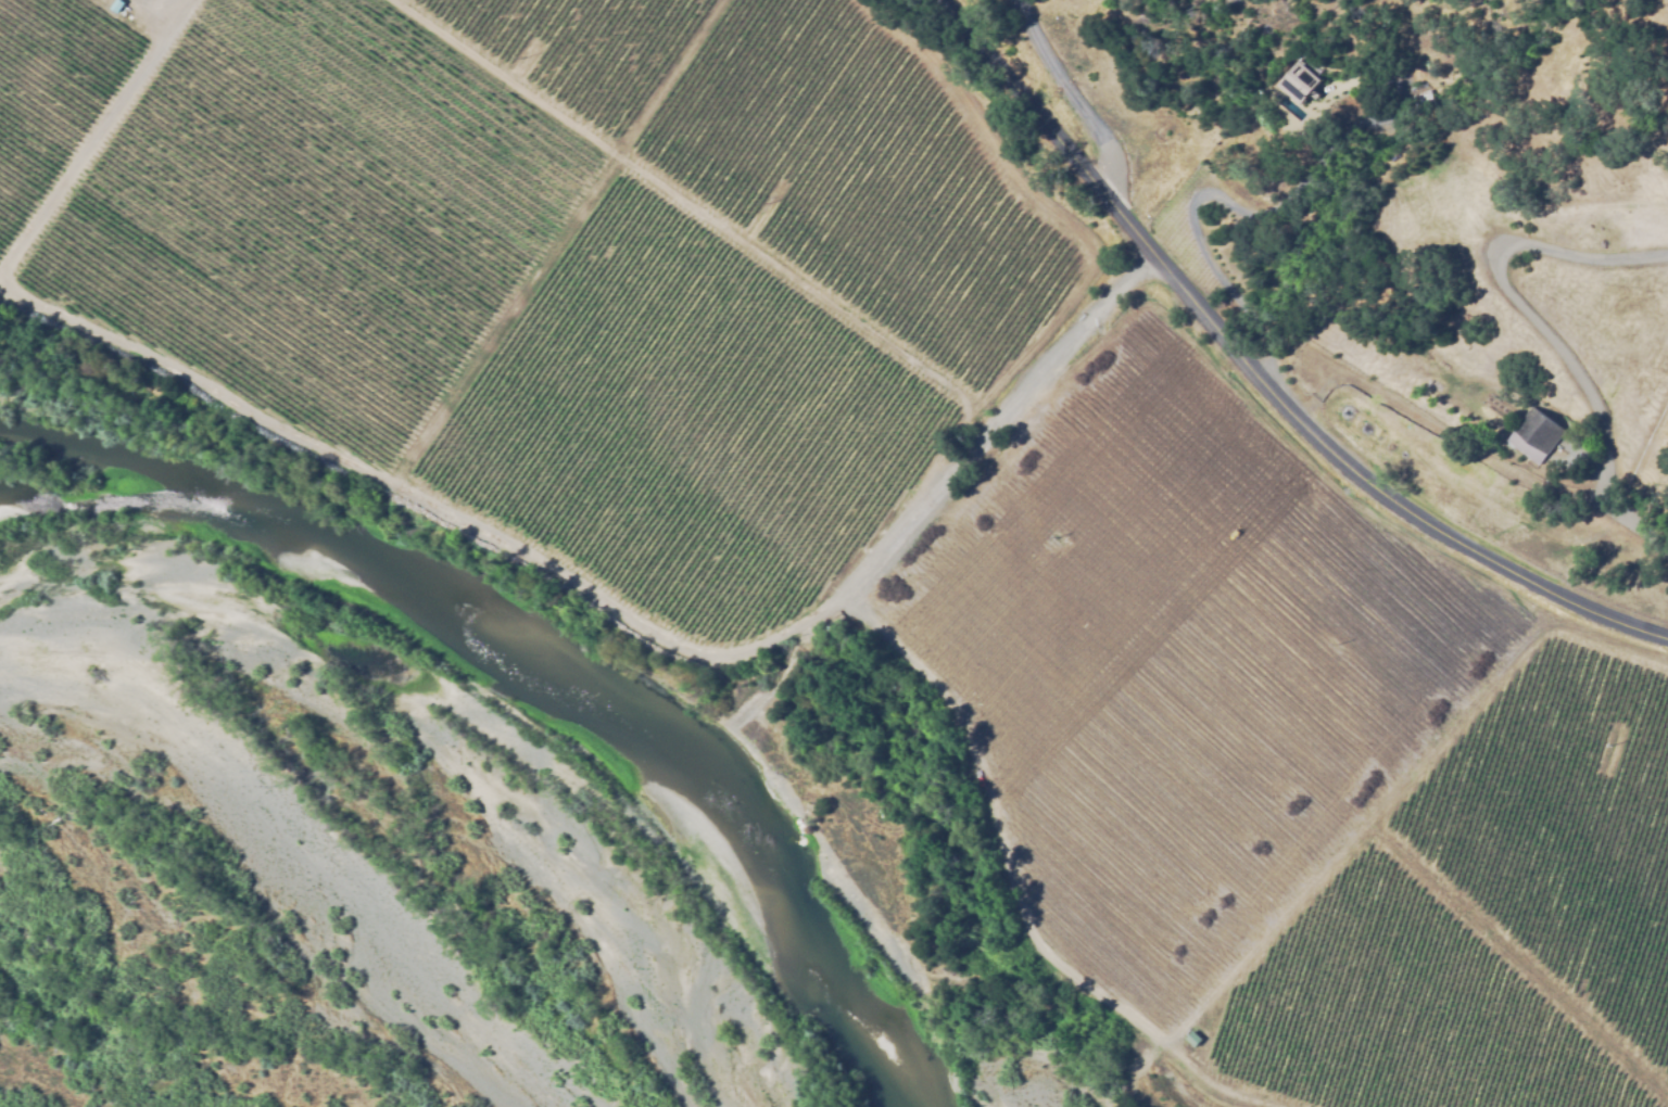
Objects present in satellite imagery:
building: (116, 7)
building: (1301, 80)
building: (1420, 104)
road: (1216, 196)
road: (1542, 323)
road: (1265, 376)
building: (1530, 424)
river: (463, 659)
building: (747, 762)
building: (796, 827)
building: (1190, 1036)

